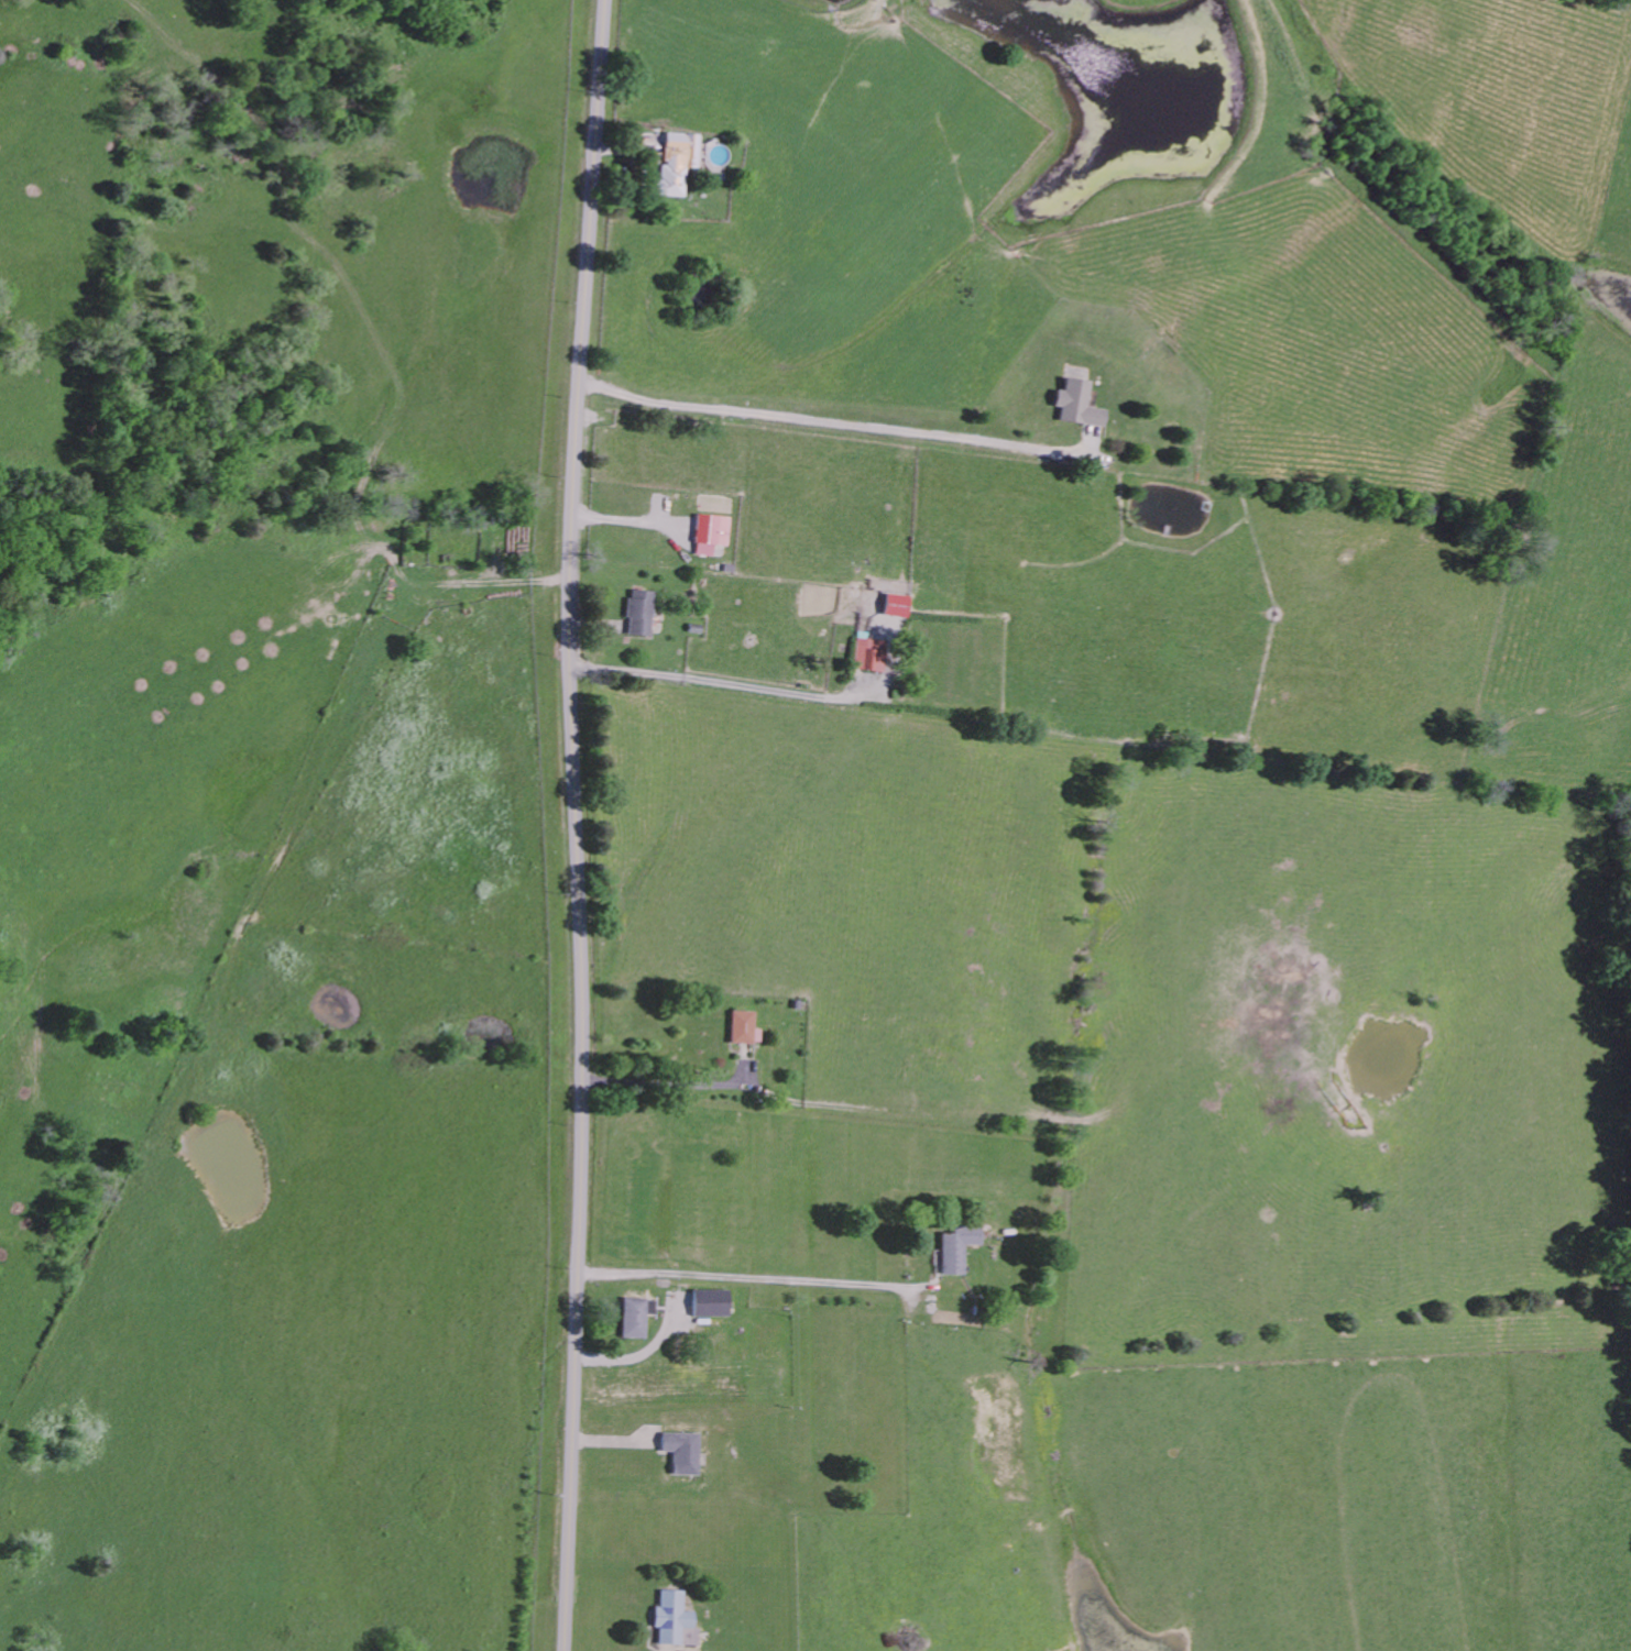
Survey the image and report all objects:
building: (676, 164)
building: (1075, 403)
road: (833, 423)
building: (710, 532)
building: (894, 604)
building: (638, 613)
building: (867, 654)
road: (622, 672)
road: (769, 690)
road: (579, 825)
building: (741, 1027)
building: (954, 1247)
road: (747, 1277)
building: (709, 1303)
building: (635, 1317)
building: (681, 1452)
building: (672, 1619)

